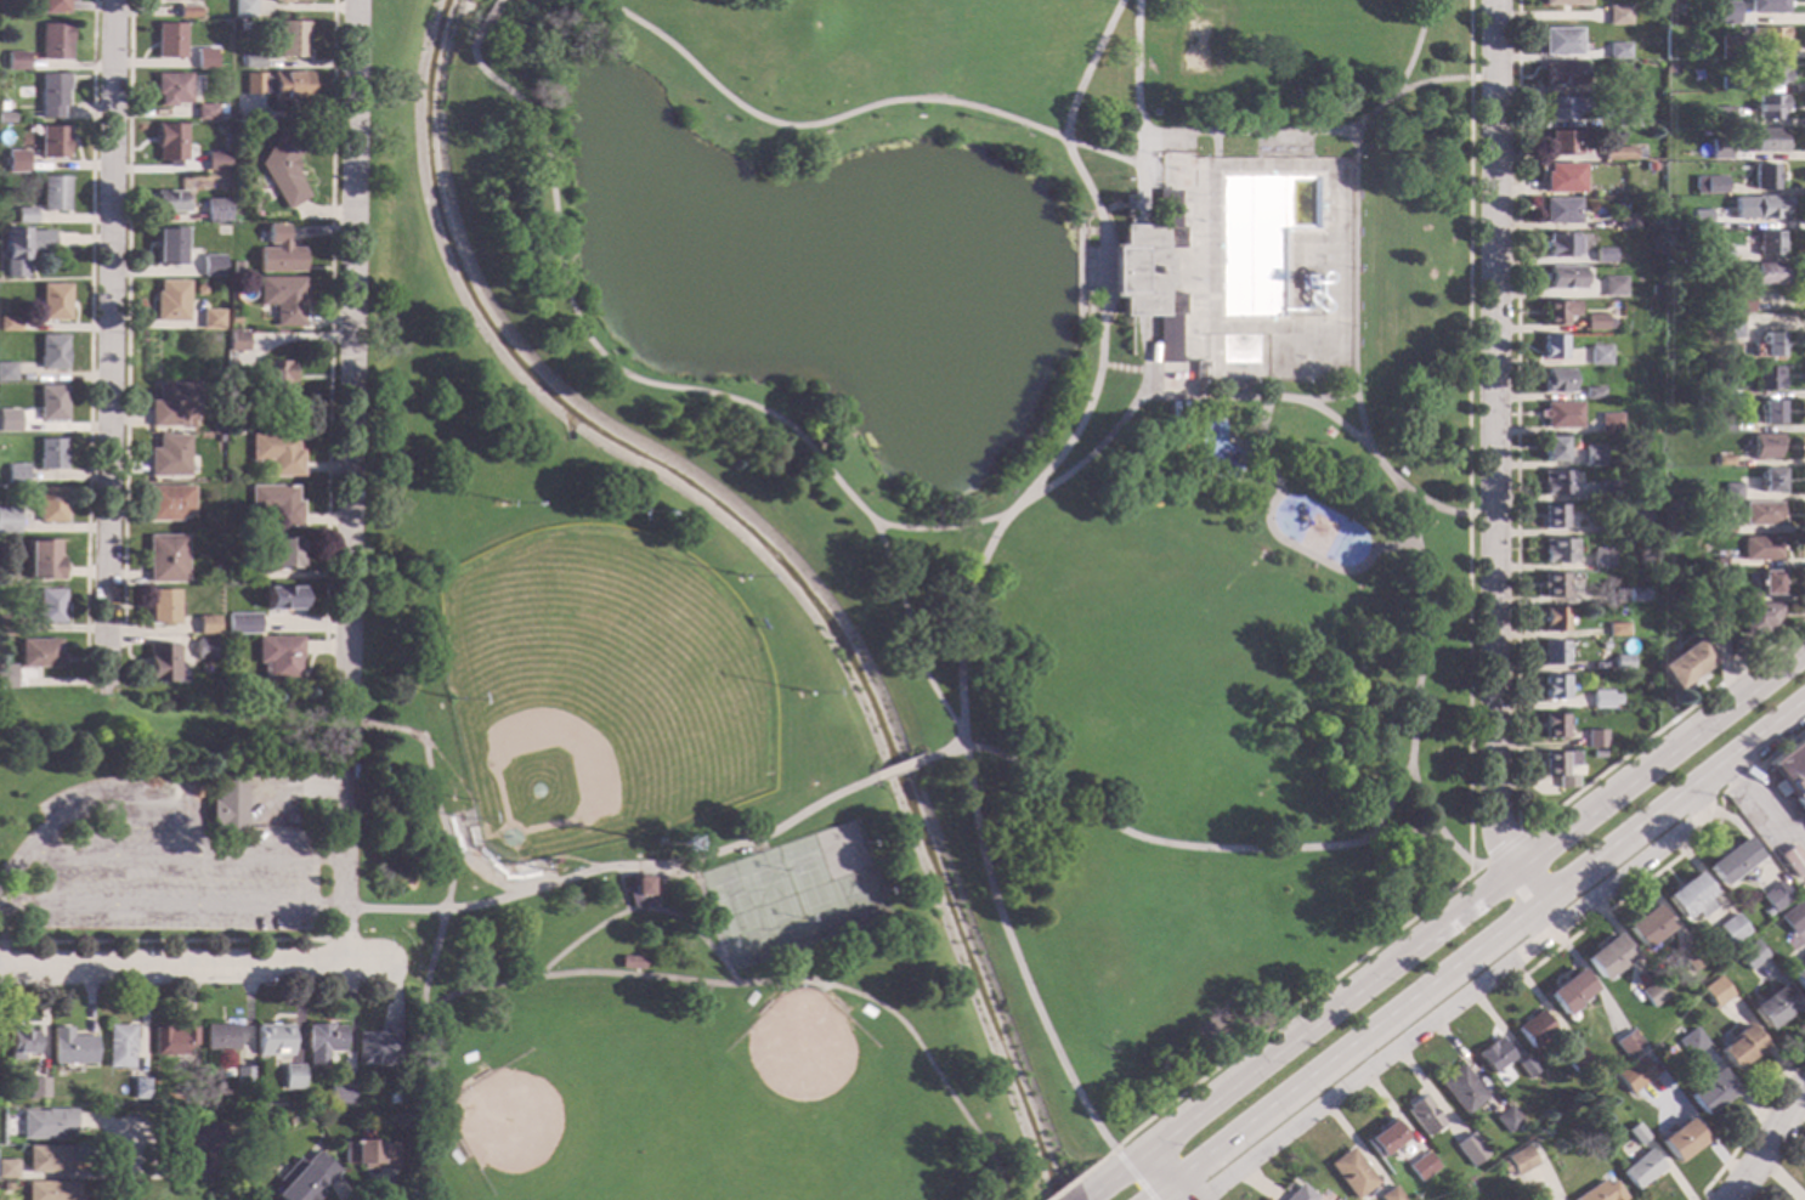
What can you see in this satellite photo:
building: (160, 0)
building: (288, 0)
building: (279, 1)
building: (1566, 2)
building: (55, 6)
building: (1765, 6)
building: (243, 7)
building: (1679, 10)
building: (188, 11)
building: (1725, 12)
building: (1618, 15)
road: (490, 17)
building: (1677, 36)
building: (1767, 38)
building: (292, 39)
building: (169, 40)
building: (53, 41)
building: (1561, 41)
building: (1728, 45)
road: (475, 46)
road: (1414, 46)
park: (1195, 47)
building: (1618, 50)
building: (204, 58)
building: (17, 61)
building: (251, 61)
building: (1770, 72)
building: (1563, 73)
building: (1728, 83)
building: (276, 84)
building: (1620, 86)
building: (171, 87)
road: (1404, 87)
building: (53, 94)
building: (1769, 106)
building: (2, 107)
building: (219, 108)
building: (1562, 108)
road: (856, 109)
road: (1136, 111)
building: (205, 112)
building: (1720, 115)
building: (1624, 117)
road: (1245, 131)
building: (1765, 140)
building: (53, 141)
building: (197, 142)
building: (1562, 142)
building: (170, 143)
building: (1718, 148)
building: (1622, 153)
building: (17, 160)
building: (215, 162)
building: (283, 166)
building: (1648, 166)
building: (1762, 176)
building: (1562, 177)
building: (1707, 185)
building: (1670, 188)
building: (53, 193)
building: (165, 202)
building: (1758, 206)
building: (214, 209)
building: (1561, 211)
building: (24, 215)
building: (1698, 217)
building: (1626, 221)
building: (1767, 243)
building: (166, 245)
building: (1560, 245)
building: (21, 248)
building: (276, 250)
building: (1720, 253)
building: (1605, 255)
road: (1317, 264)
building: (209, 265)
road: (1082, 268)
building: (1147, 272)
building: (1766, 273)
building: (1563, 277)
building: (1613, 287)
building: (196, 289)
road: (1354, 289)
building: (1652, 289)
building: (281, 298)
building: (169, 300)
building: (53, 301)
building: (1741, 302)
building: (1557, 311)
building: (208, 318)
building: (232, 319)
road: (126, 321)
building: (1597, 322)
building: (9, 324)
road: (328, 324)
building: (1727, 327)
building: (236, 341)
road: (89, 343)
road: (108, 344)
road: (351, 344)
building: (1767, 345)
building: (1552, 346)
building: (51, 351)
building: (1600, 355)
building: (228, 363)
building: (6, 372)
building: (272, 377)
building: (1766, 378)
road: (1096, 380)
road: (1184, 380)
building: (1557, 380)
building: (1718, 389)
road: (713, 391)
building: (1594, 392)
road: (1332, 396)
building: (50, 403)
building: (170, 403)
road: (1320, 408)
building: (1769, 412)
building: (1562, 414)
building: (1611, 423)
building: (1720, 423)
building: (6, 425)
building: (1216, 441)
building: (1765, 445)
building: (1555, 448)
building: (276, 453)
building: (50, 454)
building: (166, 455)
building: (1594, 455)
building: (1722, 460)
road: (1493, 471)
building: (15, 474)
road: (1059, 477)
building: (1770, 480)
building: (1556, 482)
building: (1612, 491)
building: (1716, 491)
building: (1731, 491)
building: (166, 503)
building: (50, 504)
building: (276, 504)
building: (1760, 513)
building: (1552, 516)
building: (7, 520)
building: (1639, 521)
building: (1721, 526)
road: (1279, 538)
building: (1760, 548)
building: (1556, 550)
building: (283, 551)
building: (164, 557)
building: (1601, 557)
building: (43, 559)
building: (1719, 560)
building: (247, 573)
building: (1698, 576)
building: (1769, 582)
park: (1224, 584)
building: (1552, 584)
park: (855, 587)
road: (1517, 588)
building: (1637, 594)
building: (282, 598)
building: (50, 605)
building: (158, 605)
building: (1759, 616)
building: (1555, 618)
building: (208, 624)
building: (241, 624)
building: (7, 626)
building: (1617, 629)
building: (1605, 645)
building: (1738, 646)
building: (202, 647)
building: (39, 653)
building: (1552, 653)
building: (277, 656)
building: (1623, 662)
building: (1686, 662)
building: (160, 663)
road: (1469, 673)
building: (6, 675)
road: (1418, 683)
park: (600, 686)
building: (1554, 687)
building: (1603, 698)
building: (1552, 725)
building: (1595, 738)
road: (943, 751)
building: (1597, 754)
road: (898, 766)
building: (1560, 766)
building: (1792, 770)
road: (430, 774)
road: (335, 786)
road: (1388, 800)
road: (97, 804)
building: (227, 805)
road: (1762, 805)
road: (1188, 845)
road: (1506, 845)
road: (1674, 859)
building: (1730, 860)
building: (1792, 861)
road: (341, 865)
road: (615, 866)
road: (1473, 871)
parking lot: (177, 881)
building: (639, 891)
park: (793, 893)
building: (1773, 895)
building: (1688, 898)
road: (656, 900)
road: (1456, 911)
building: (1762, 911)
road: (708, 913)
building: (1793, 917)
road: (598, 926)
building: (1646, 927)
building: (1730, 928)
road: (341, 936)
road: (703, 938)
road: (170, 941)
road: (1477, 949)
building: (1749, 955)
road: (1014, 956)
building: (1606, 956)
building: (1691, 958)
building: (630, 962)
road: (188, 967)
building: (1798, 977)
road: (771, 981)
building: (1714, 990)
building: (1568, 991)
building: (1652, 992)
road: (1459, 998)
building: (1771, 1007)
building: (1533, 1029)
building: (221, 1036)
building: (171, 1040)
building: (272, 1040)
building: (21, 1042)
building: (322, 1042)
building: (1690, 1042)
building: (1625, 1043)
building: (118, 1046)
building: (377, 1046)
building: (1738, 1046)
building: (70, 1047)
road: (429, 1052)
building: (1493, 1055)
building: (1575, 1060)
park: (804, 1064)
building: (1526, 1066)
building: (1631, 1074)
building: (243, 1076)
building: (292, 1076)
building: (38, 1087)
building: (140, 1088)
building: (1460, 1089)
building: (1708, 1092)
building: (340, 1093)
building: (391, 1098)
building: (192, 1099)
building: (1421, 1115)
park: (556, 1116)
building: (1505, 1119)
road: (1750, 1119)
building: (46, 1123)
building: (1635, 1132)
building: (1384, 1137)
building: (1679, 1140)
road: (1765, 1142)
building: (1467, 1149)
building: (205, 1151)
building: (369, 1154)
building: (49, 1159)
building: (1517, 1160)
building: (1420, 1166)
building: (7, 1168)
road: (126, 1170)
building: (1640, 1170)
road: (1166, 1173)
building: (1351, 1173)
road: (1132, 1176)
building: (305, 1178)
road: (1070, 1181)
building: (5, 1187)
building: (51, 1190)
road: (1098, 1190)
building: (1297, 1193)
building: (1600, 1193)
building: (1388, 1194)

